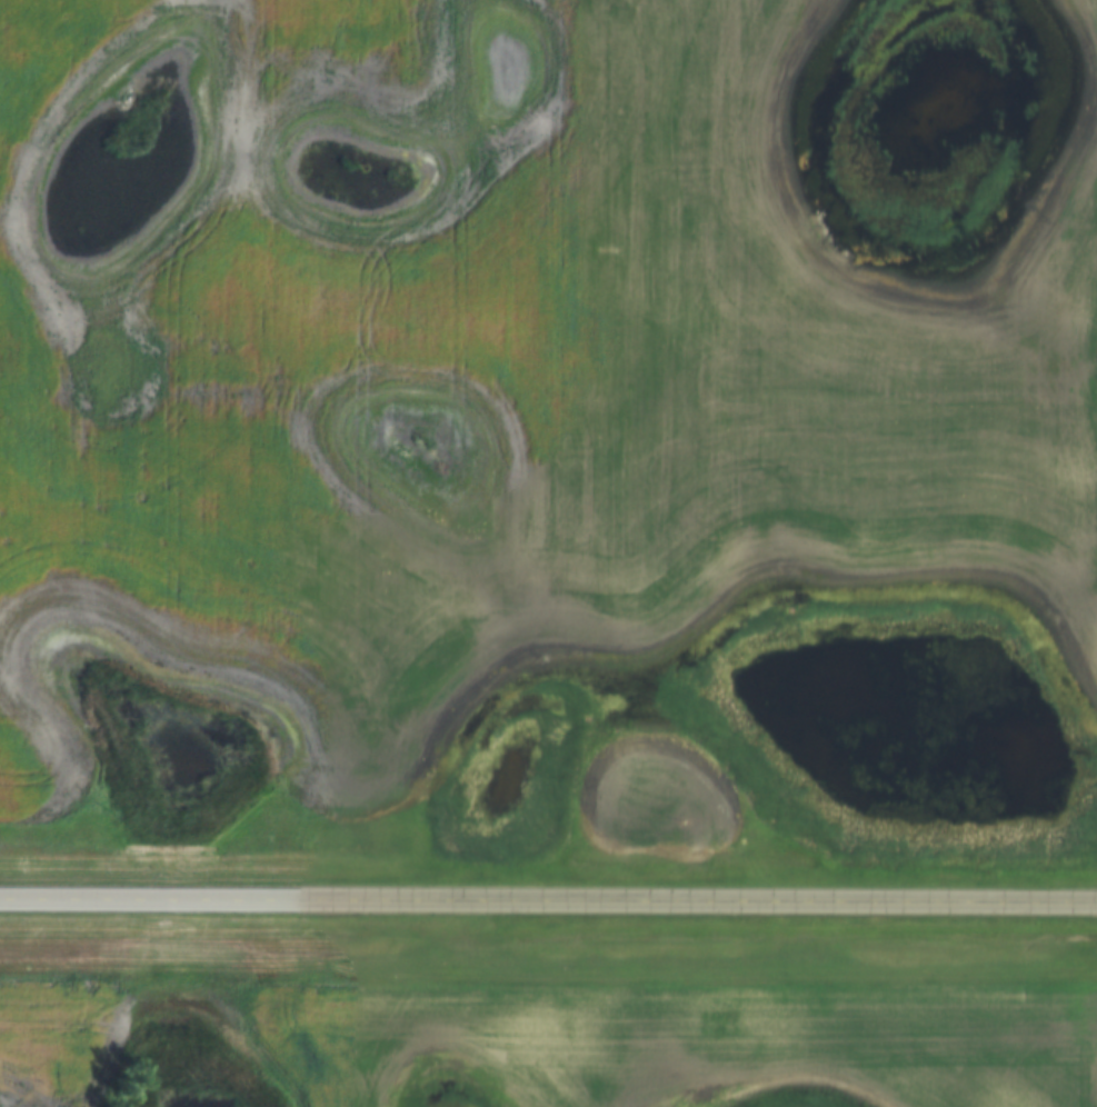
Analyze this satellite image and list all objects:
road: (548, 904)

